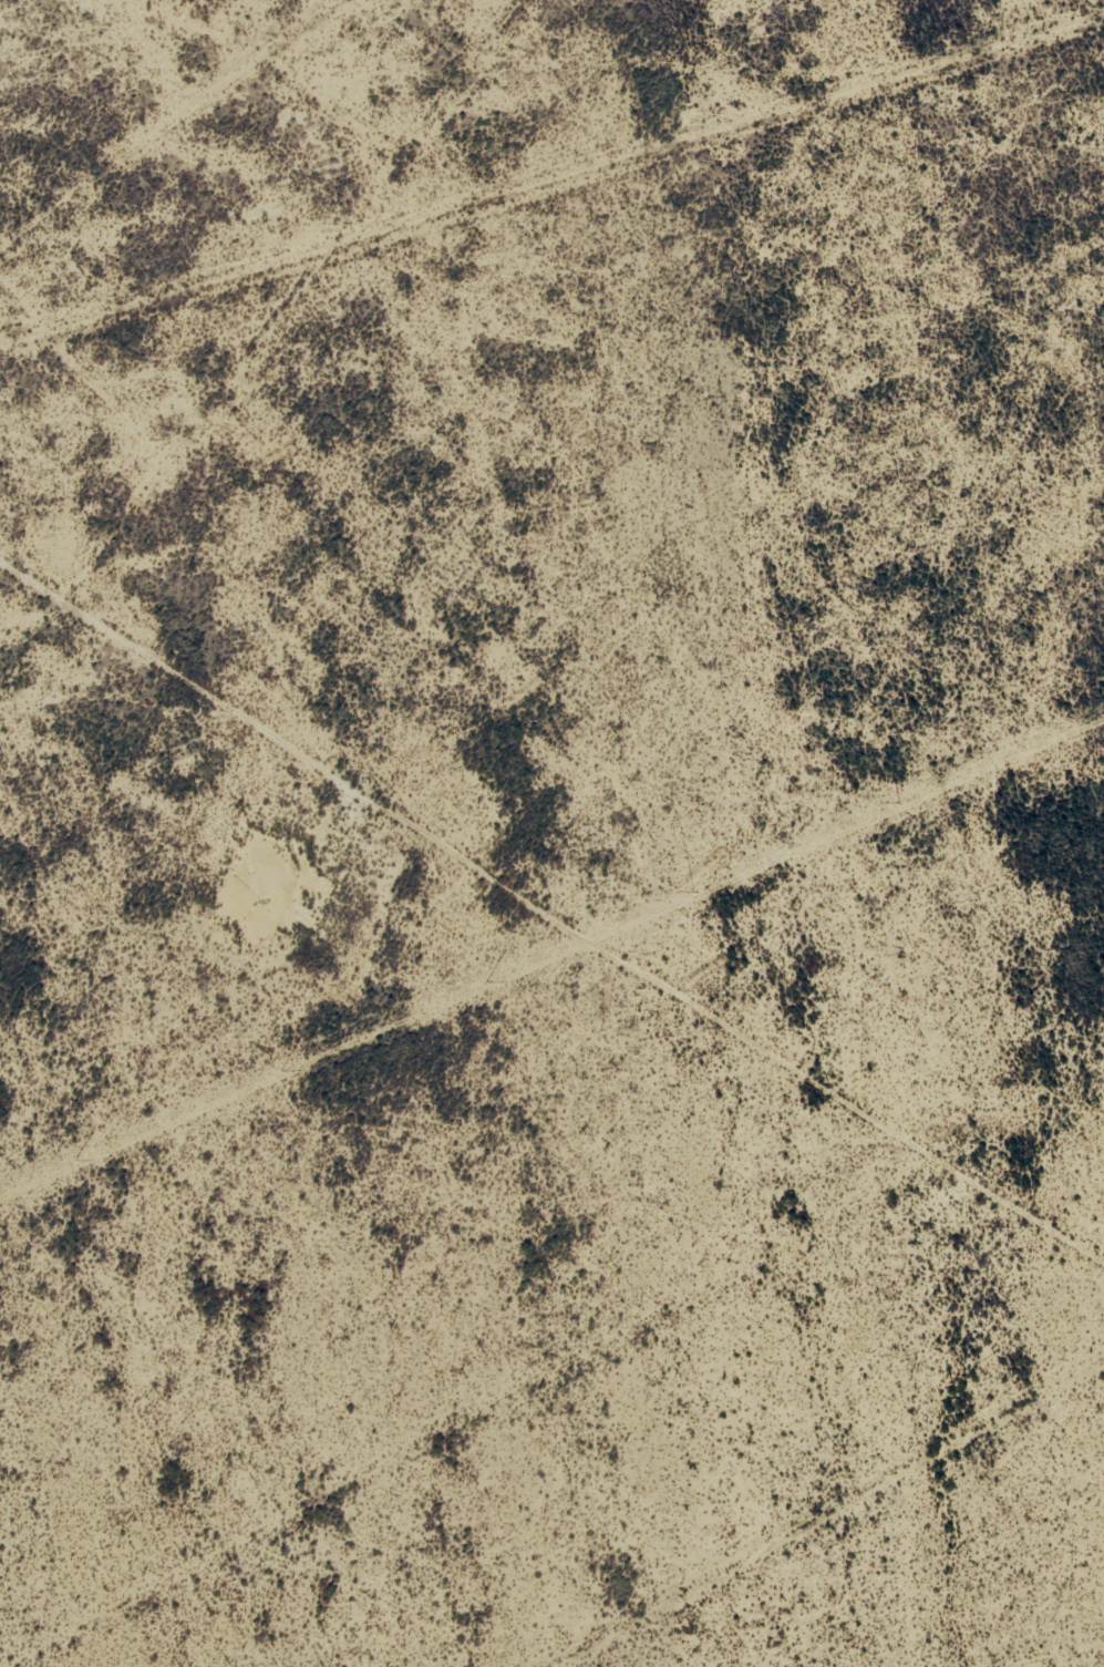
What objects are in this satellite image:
power tower: (1103, 713)
power tower: (898, 803)
power tower: (692, 893)
road: (557, 951)
power tower: (484, 982)
power tower: (282, 1071)
power tower: (75, 1160)

